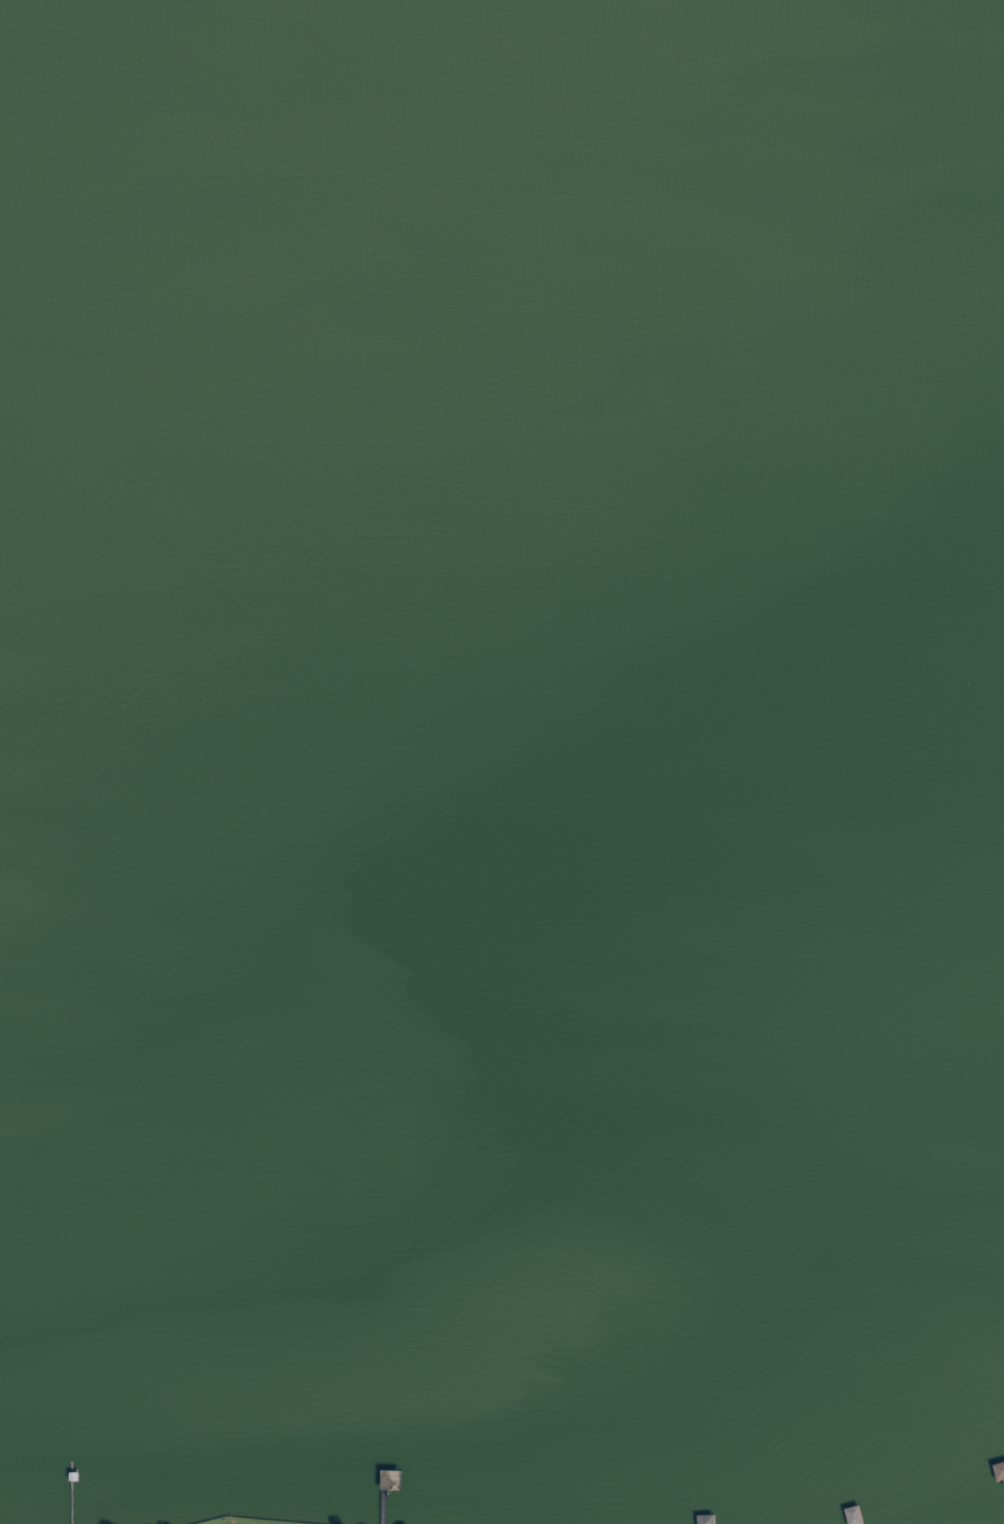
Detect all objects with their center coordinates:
building: (1000, 1471)
building: (393, 1481)
building: (856, 1515)
building: (707, 1520)

